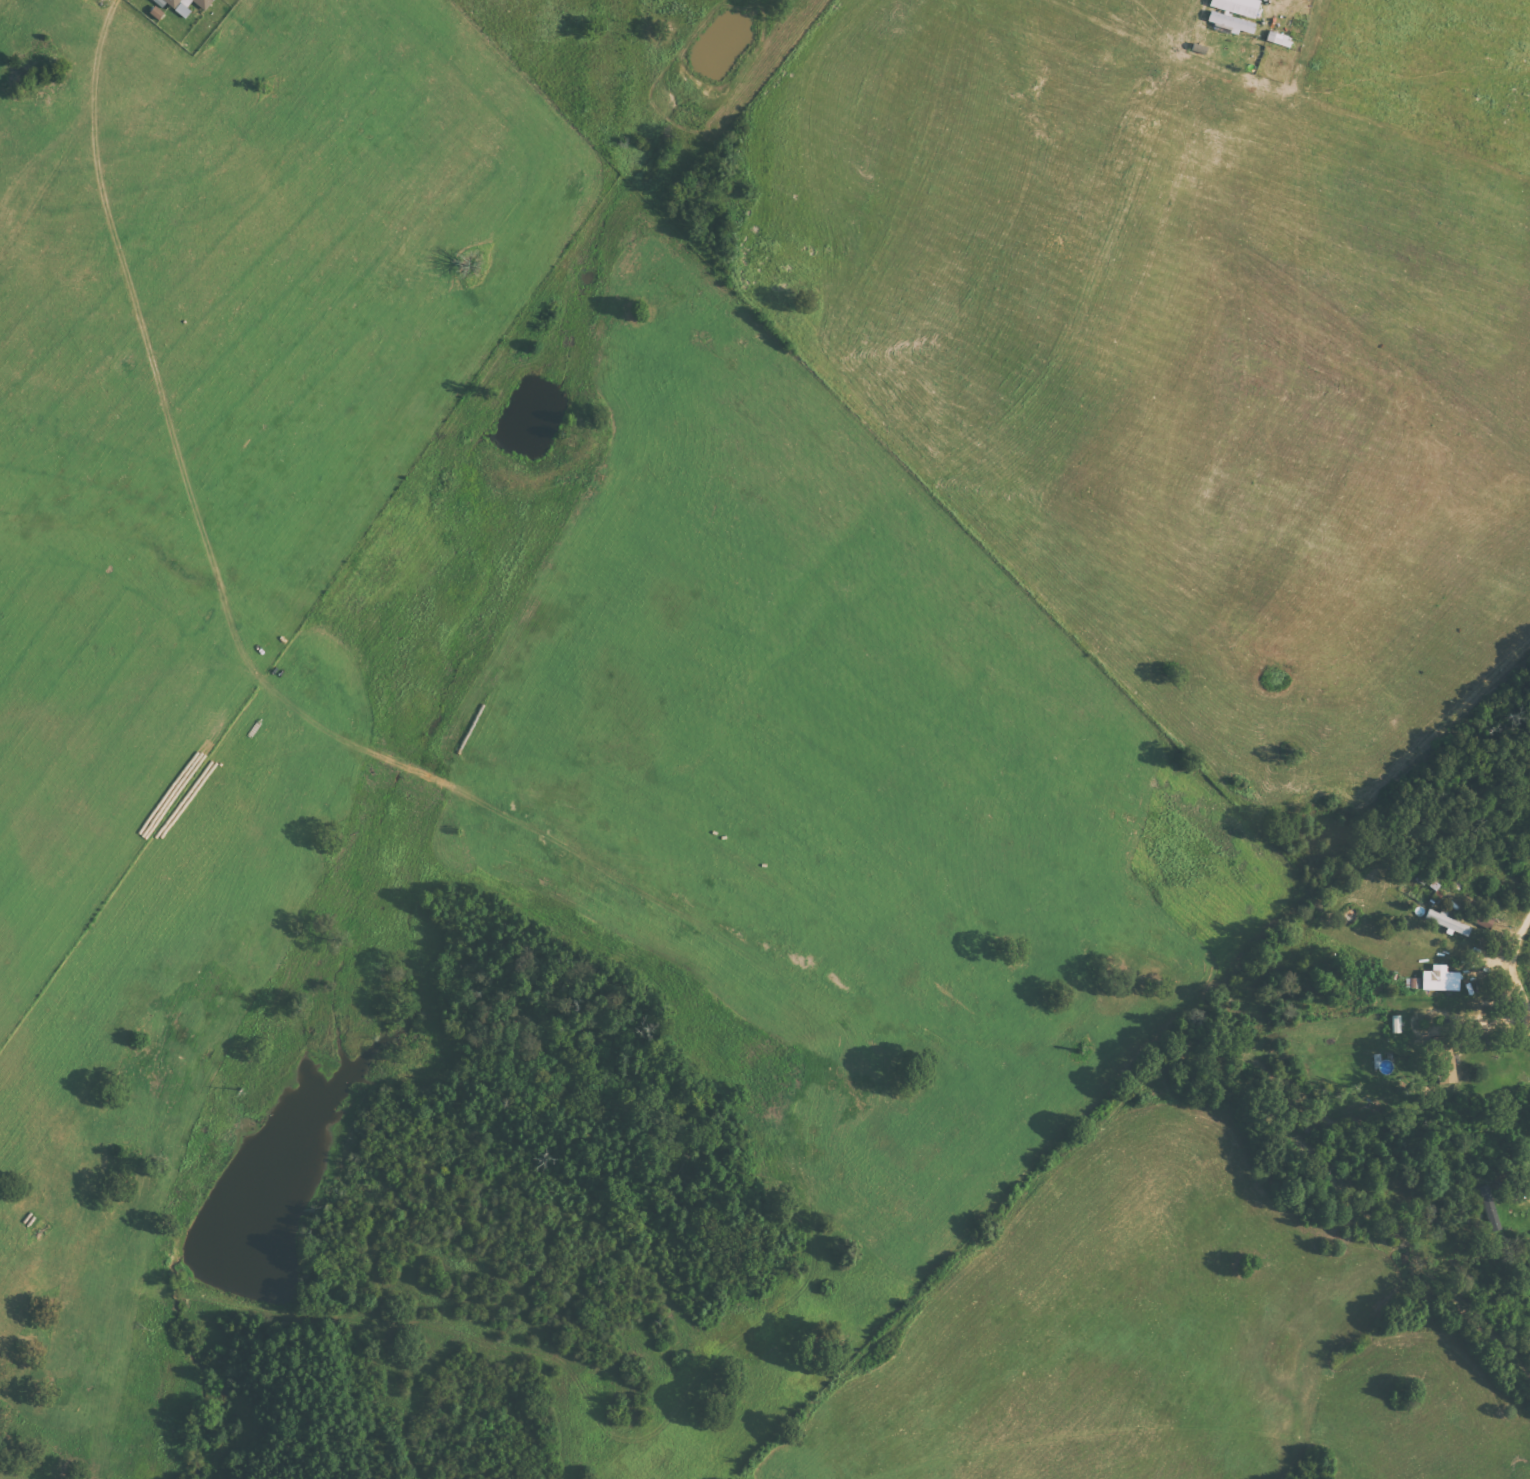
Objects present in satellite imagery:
building: (186, 5)
building: (154, 13)
building: (1229, 16)
building: (1277, 40)
building: (1438, 979)
building: (1411, 983)
building: (1441, 1058)
building: (1489, 1208)
road: (119, 1260)
building: (1529, 1357)
road: (1502, 1459)

